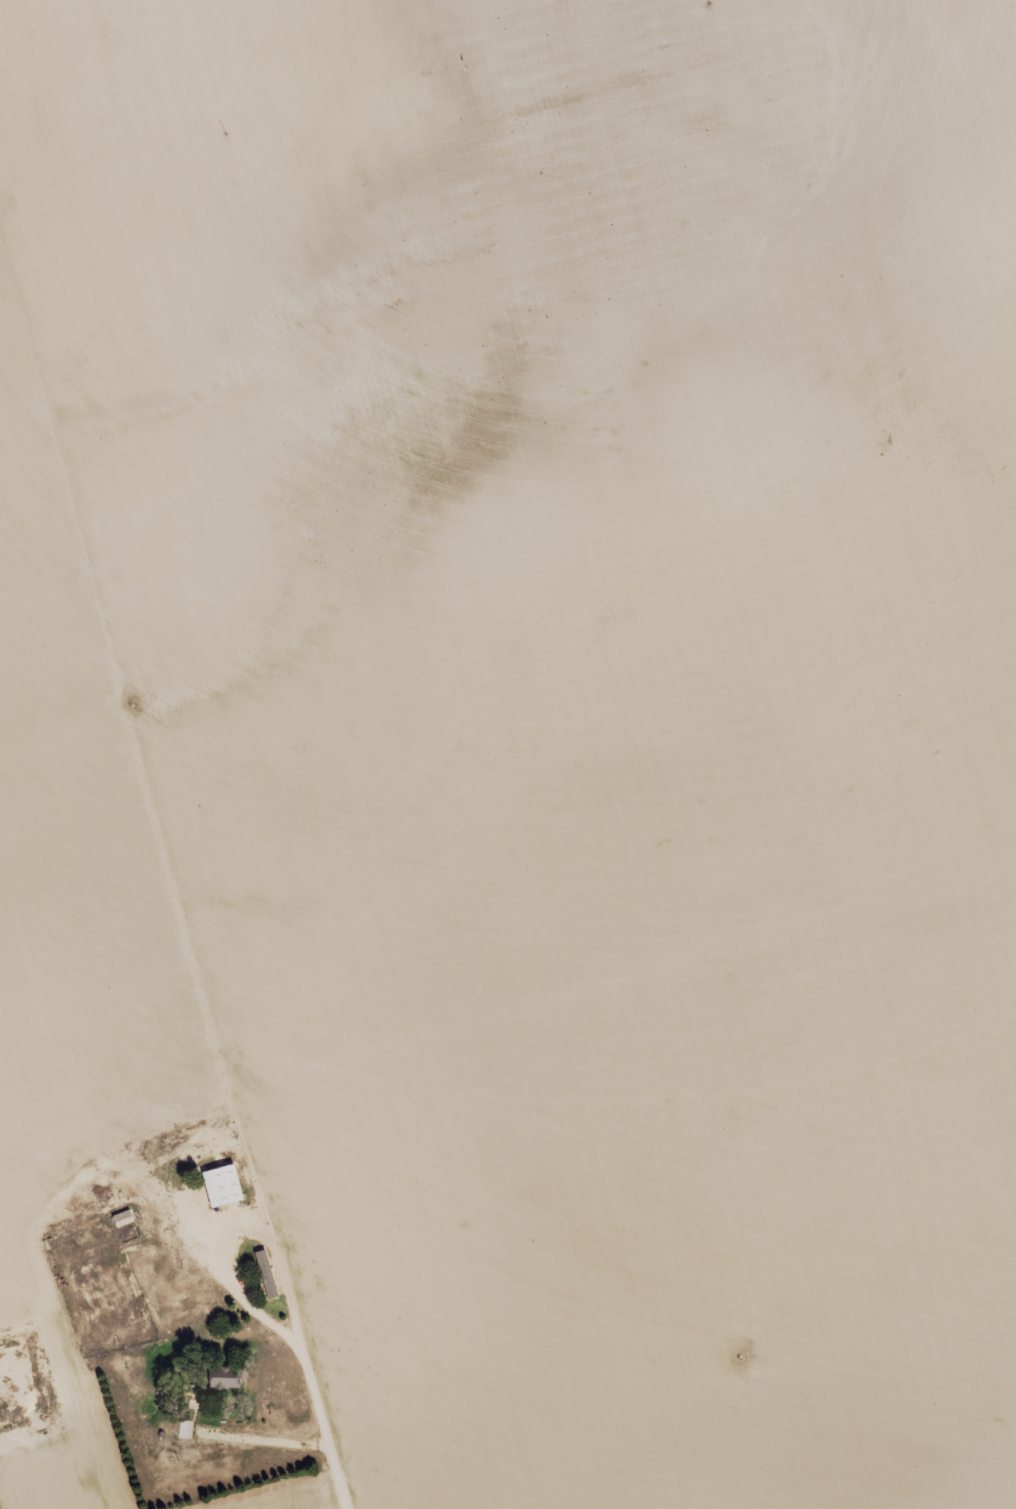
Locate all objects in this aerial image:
road: (542, 710)
road: (29, 1167)
road: (217, 1174)
building: (219, 1183)
road: (158, 1218)
building: (221, 1377)

